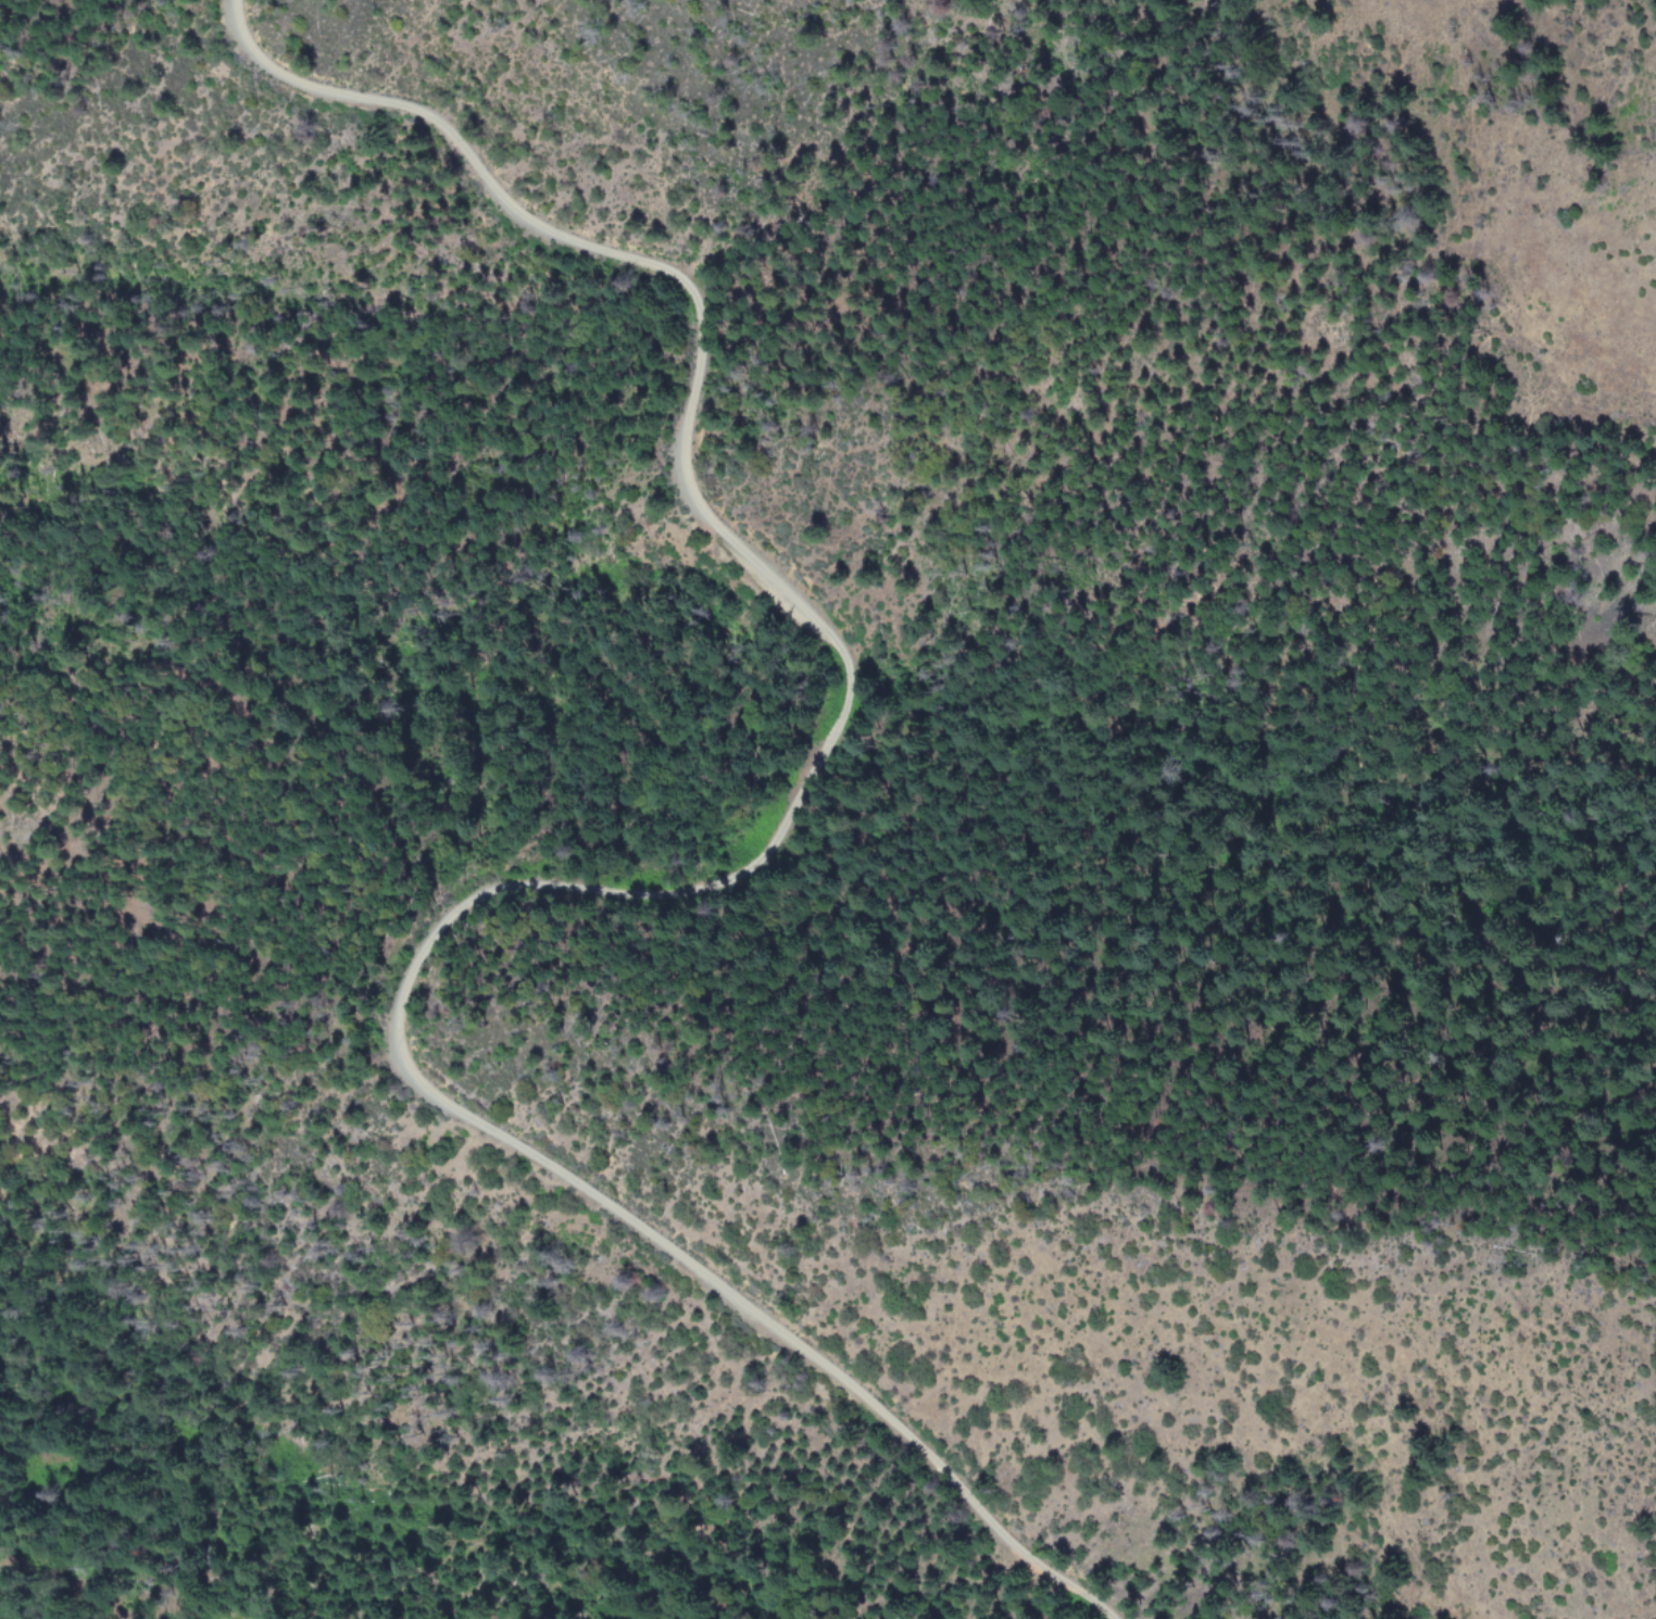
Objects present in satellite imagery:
road: (645, 852)

